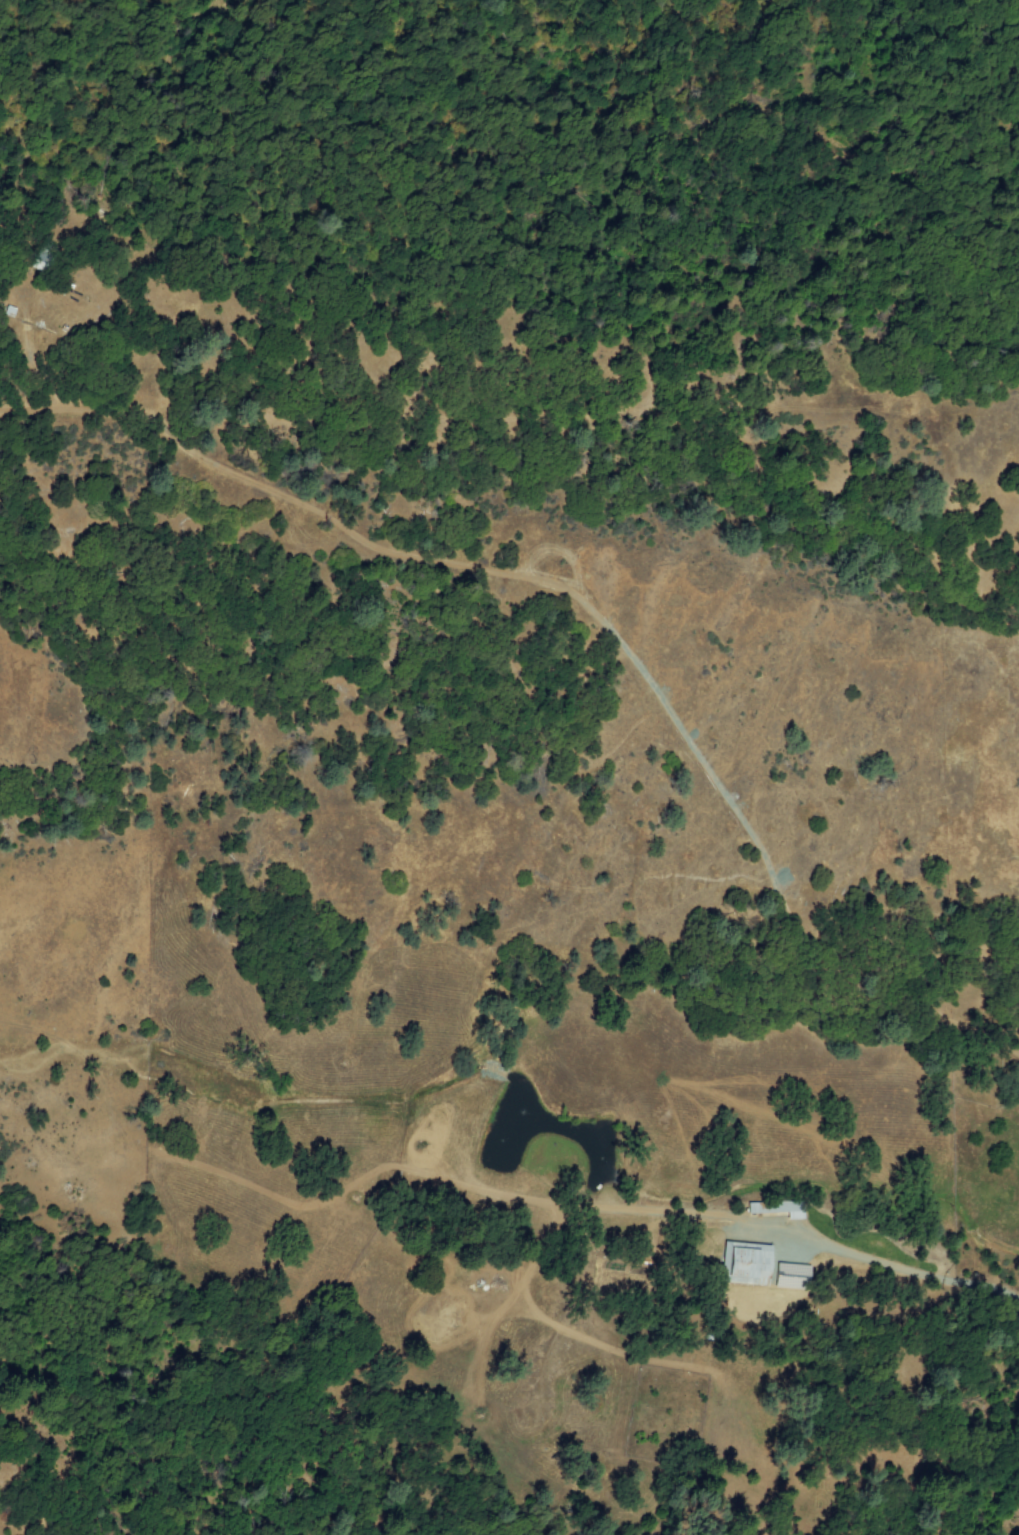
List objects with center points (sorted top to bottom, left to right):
building: (779, 1210)
building: (749, 1261)

